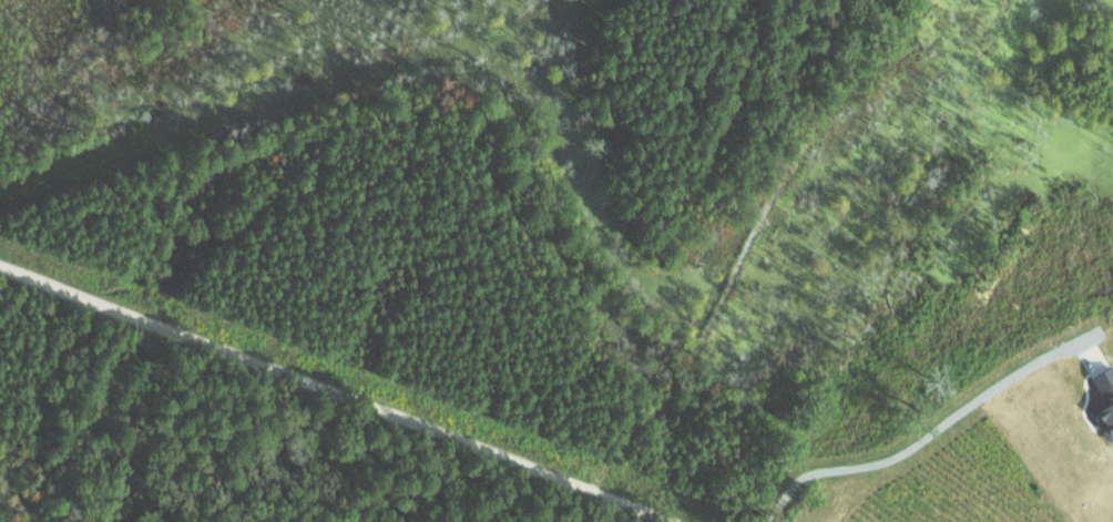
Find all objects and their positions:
road: (336, 392)
road: (930, 433)

